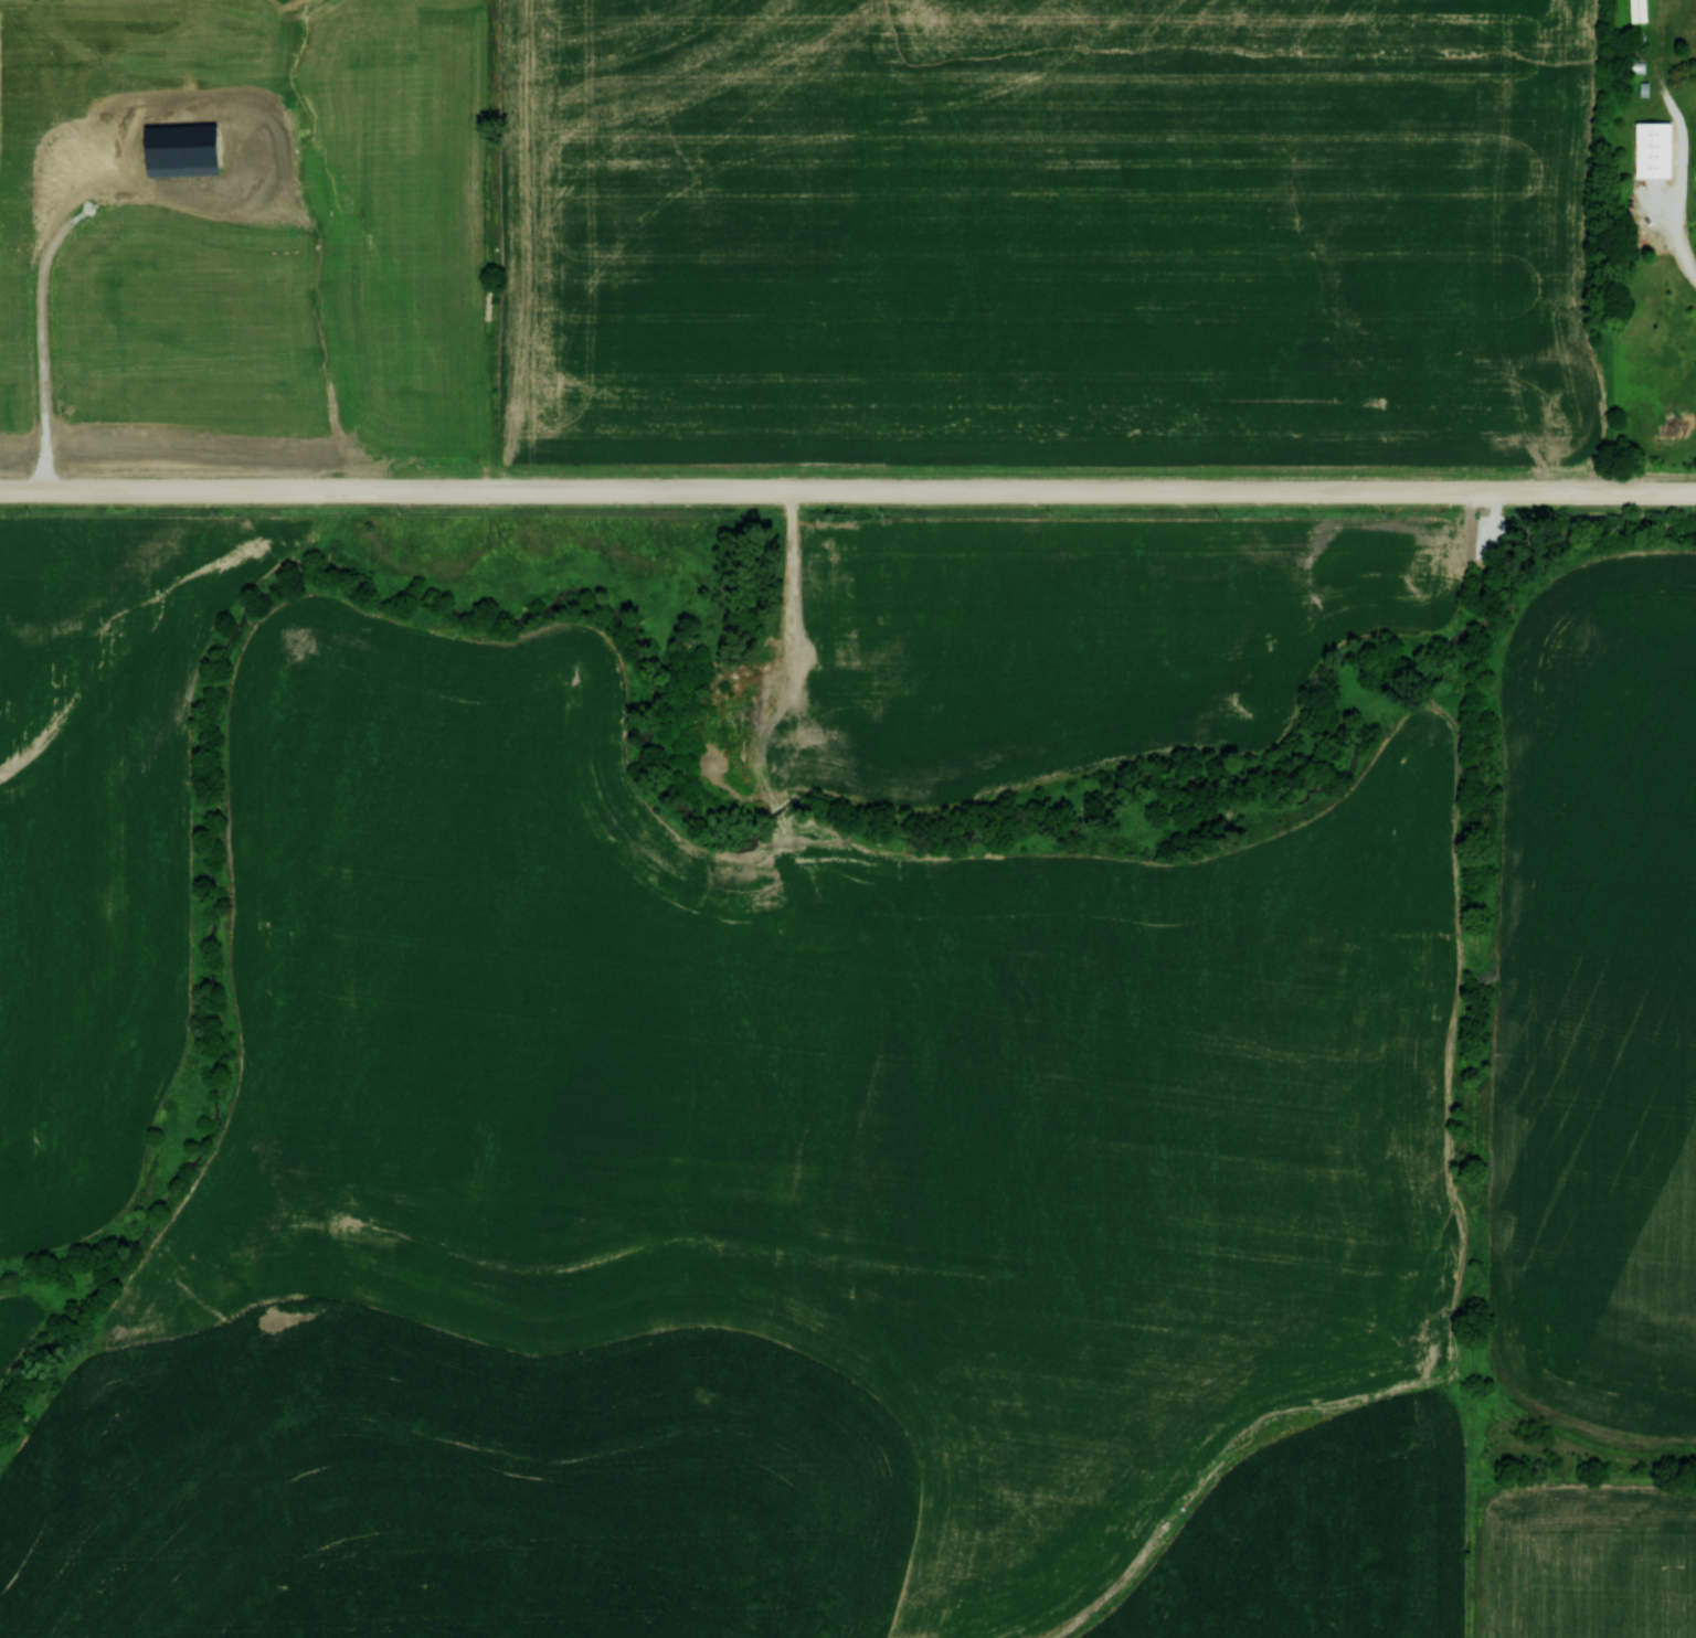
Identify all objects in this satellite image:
building: (1653, 149)
road: (848, 490)

